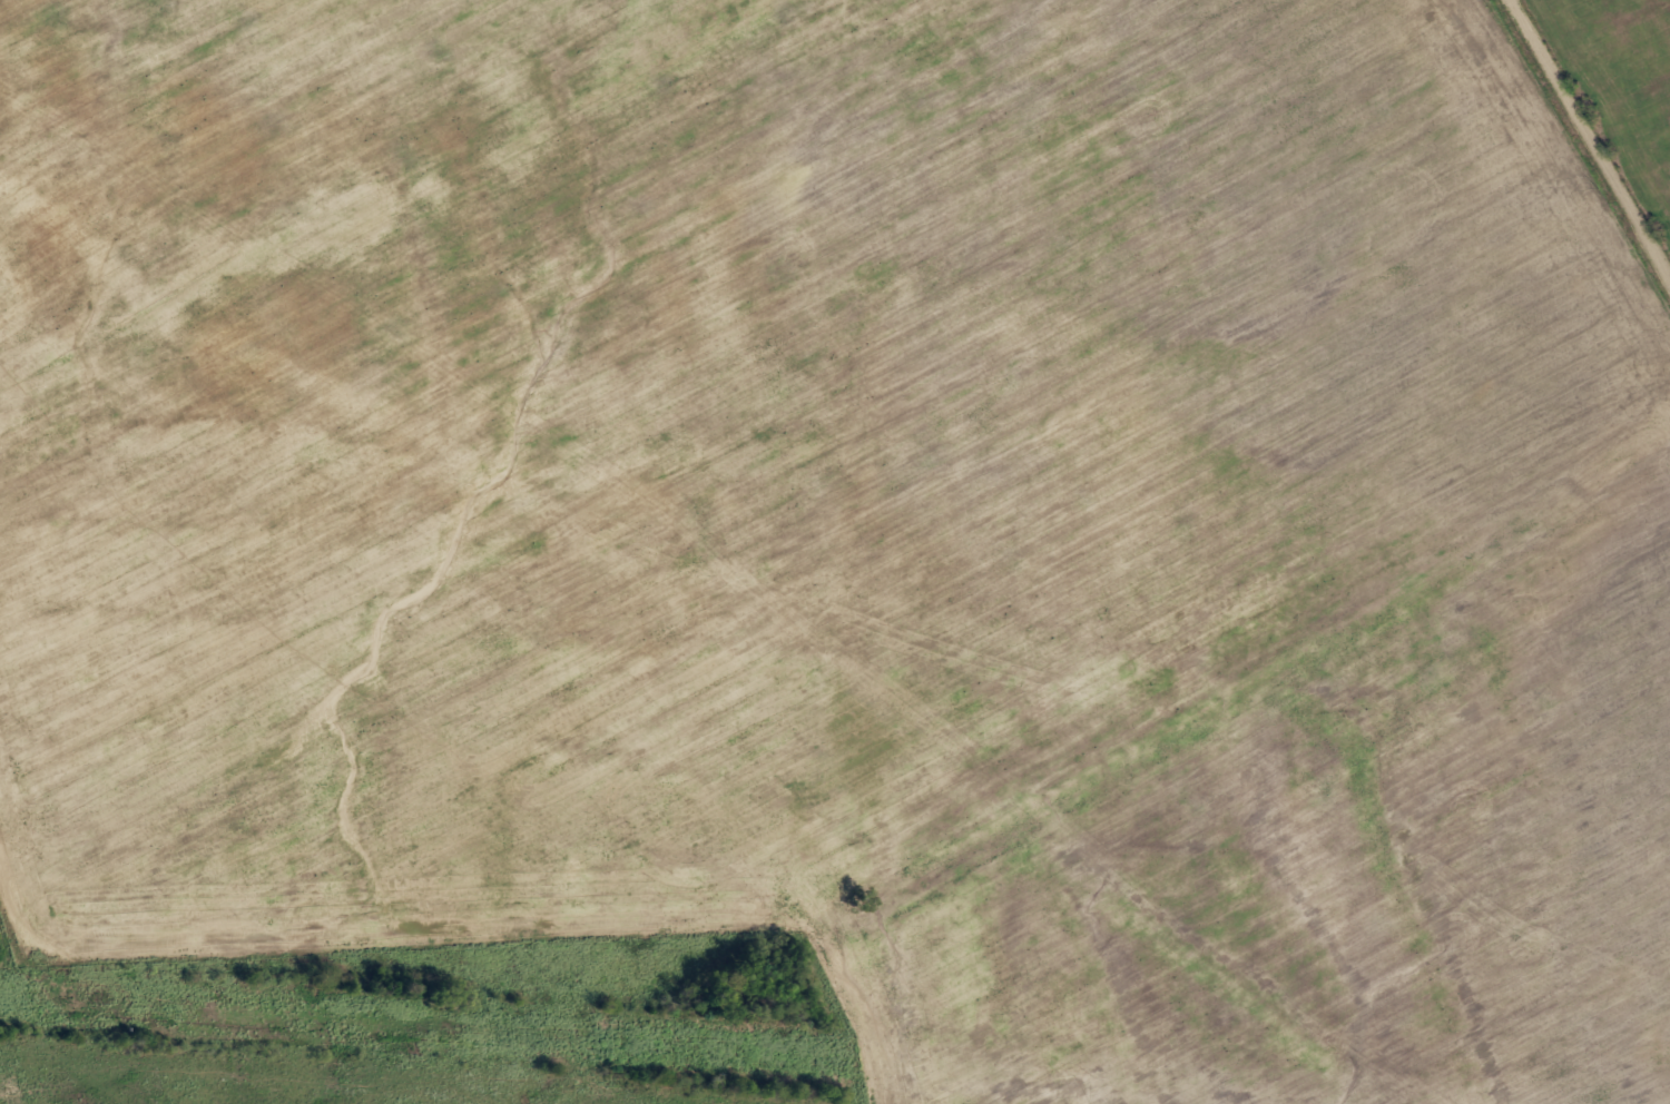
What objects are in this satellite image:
road: (1590, 140)
road: (1199, 735)

